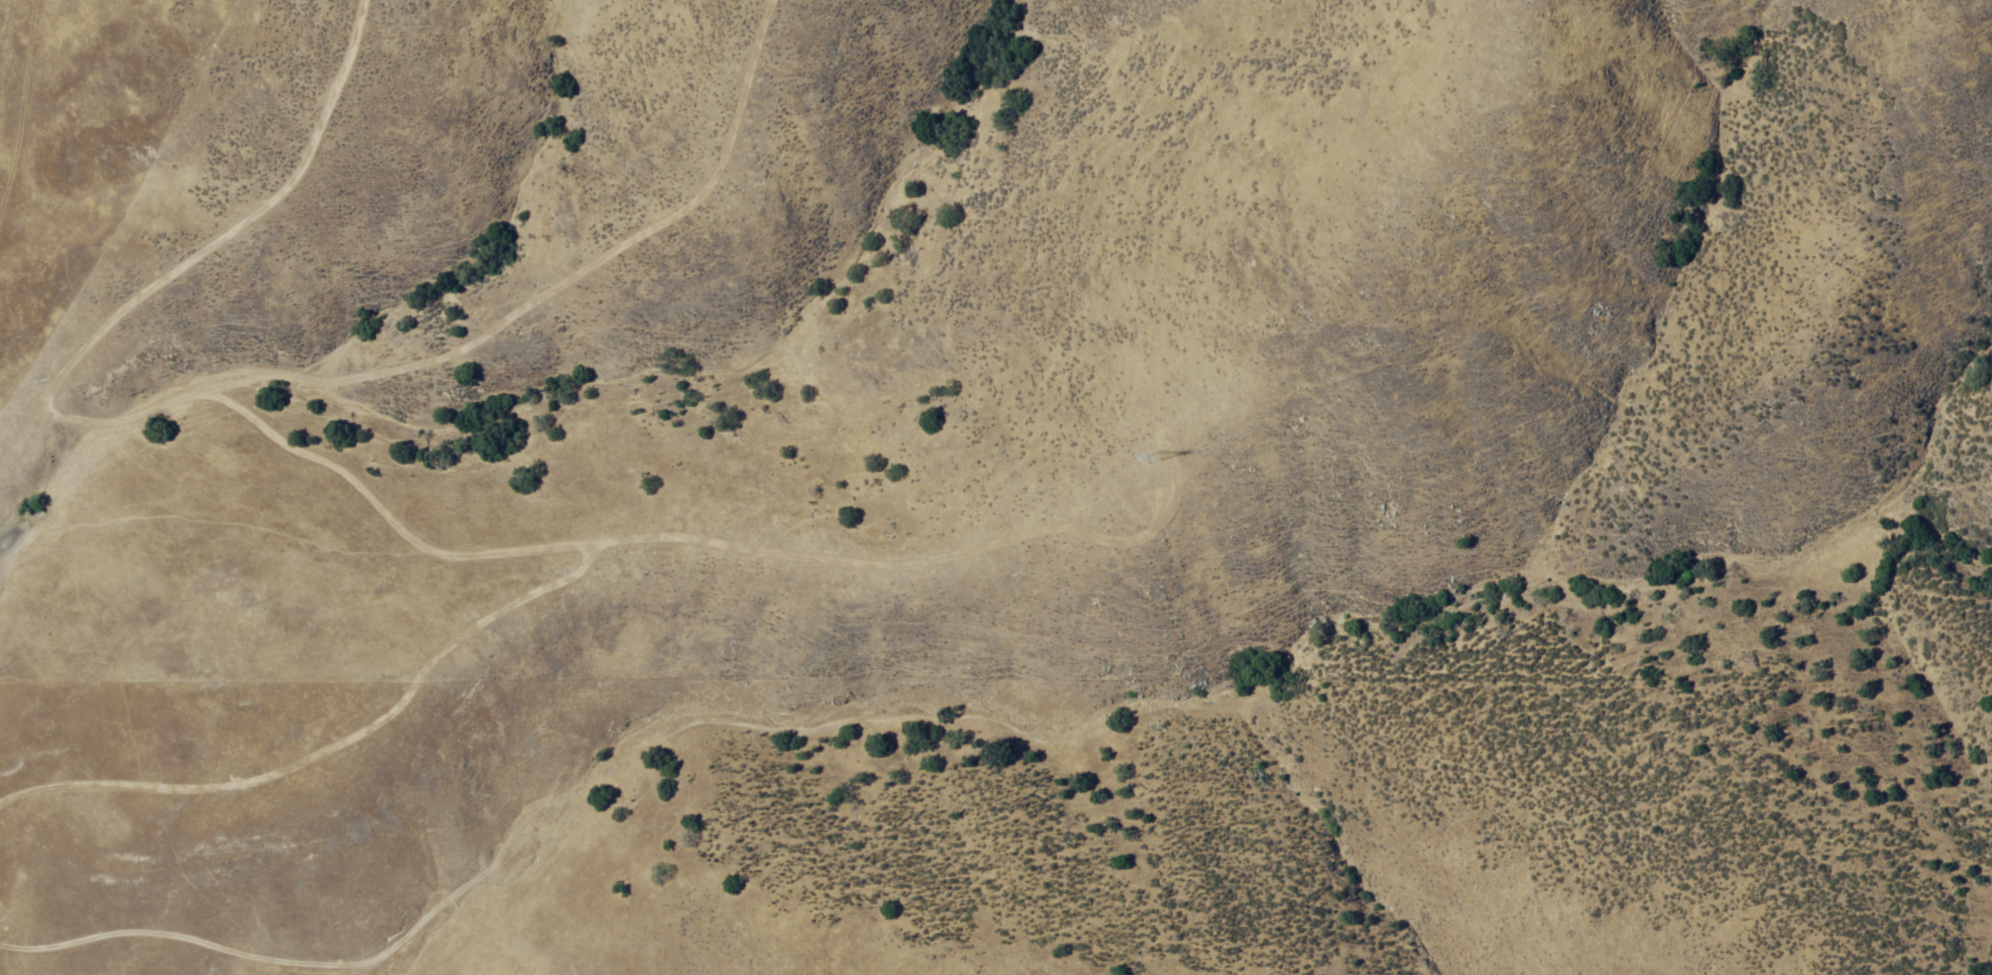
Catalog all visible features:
road: (26, 140)
road: (1250, 487)
road: (900, 630)
road: (471, 921)

